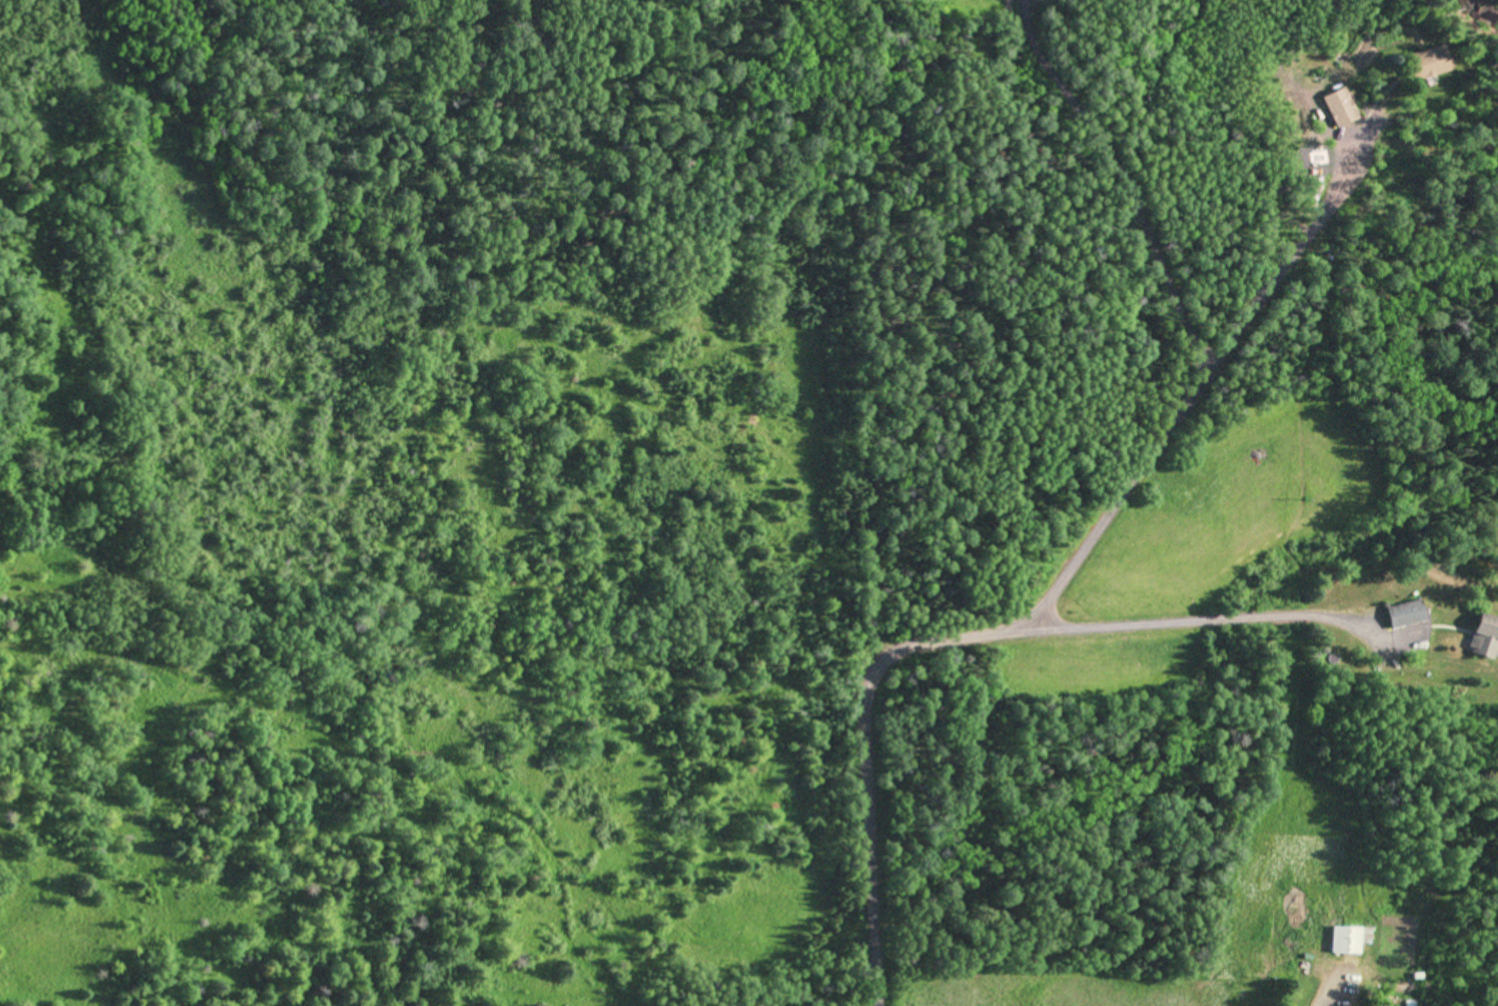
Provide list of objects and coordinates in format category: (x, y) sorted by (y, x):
building: (1429, 64)
building: (1340, 110)
road: (1061, 591)
building: (1407, 614)
building: (1486, 637)
building: (1349, 941)

